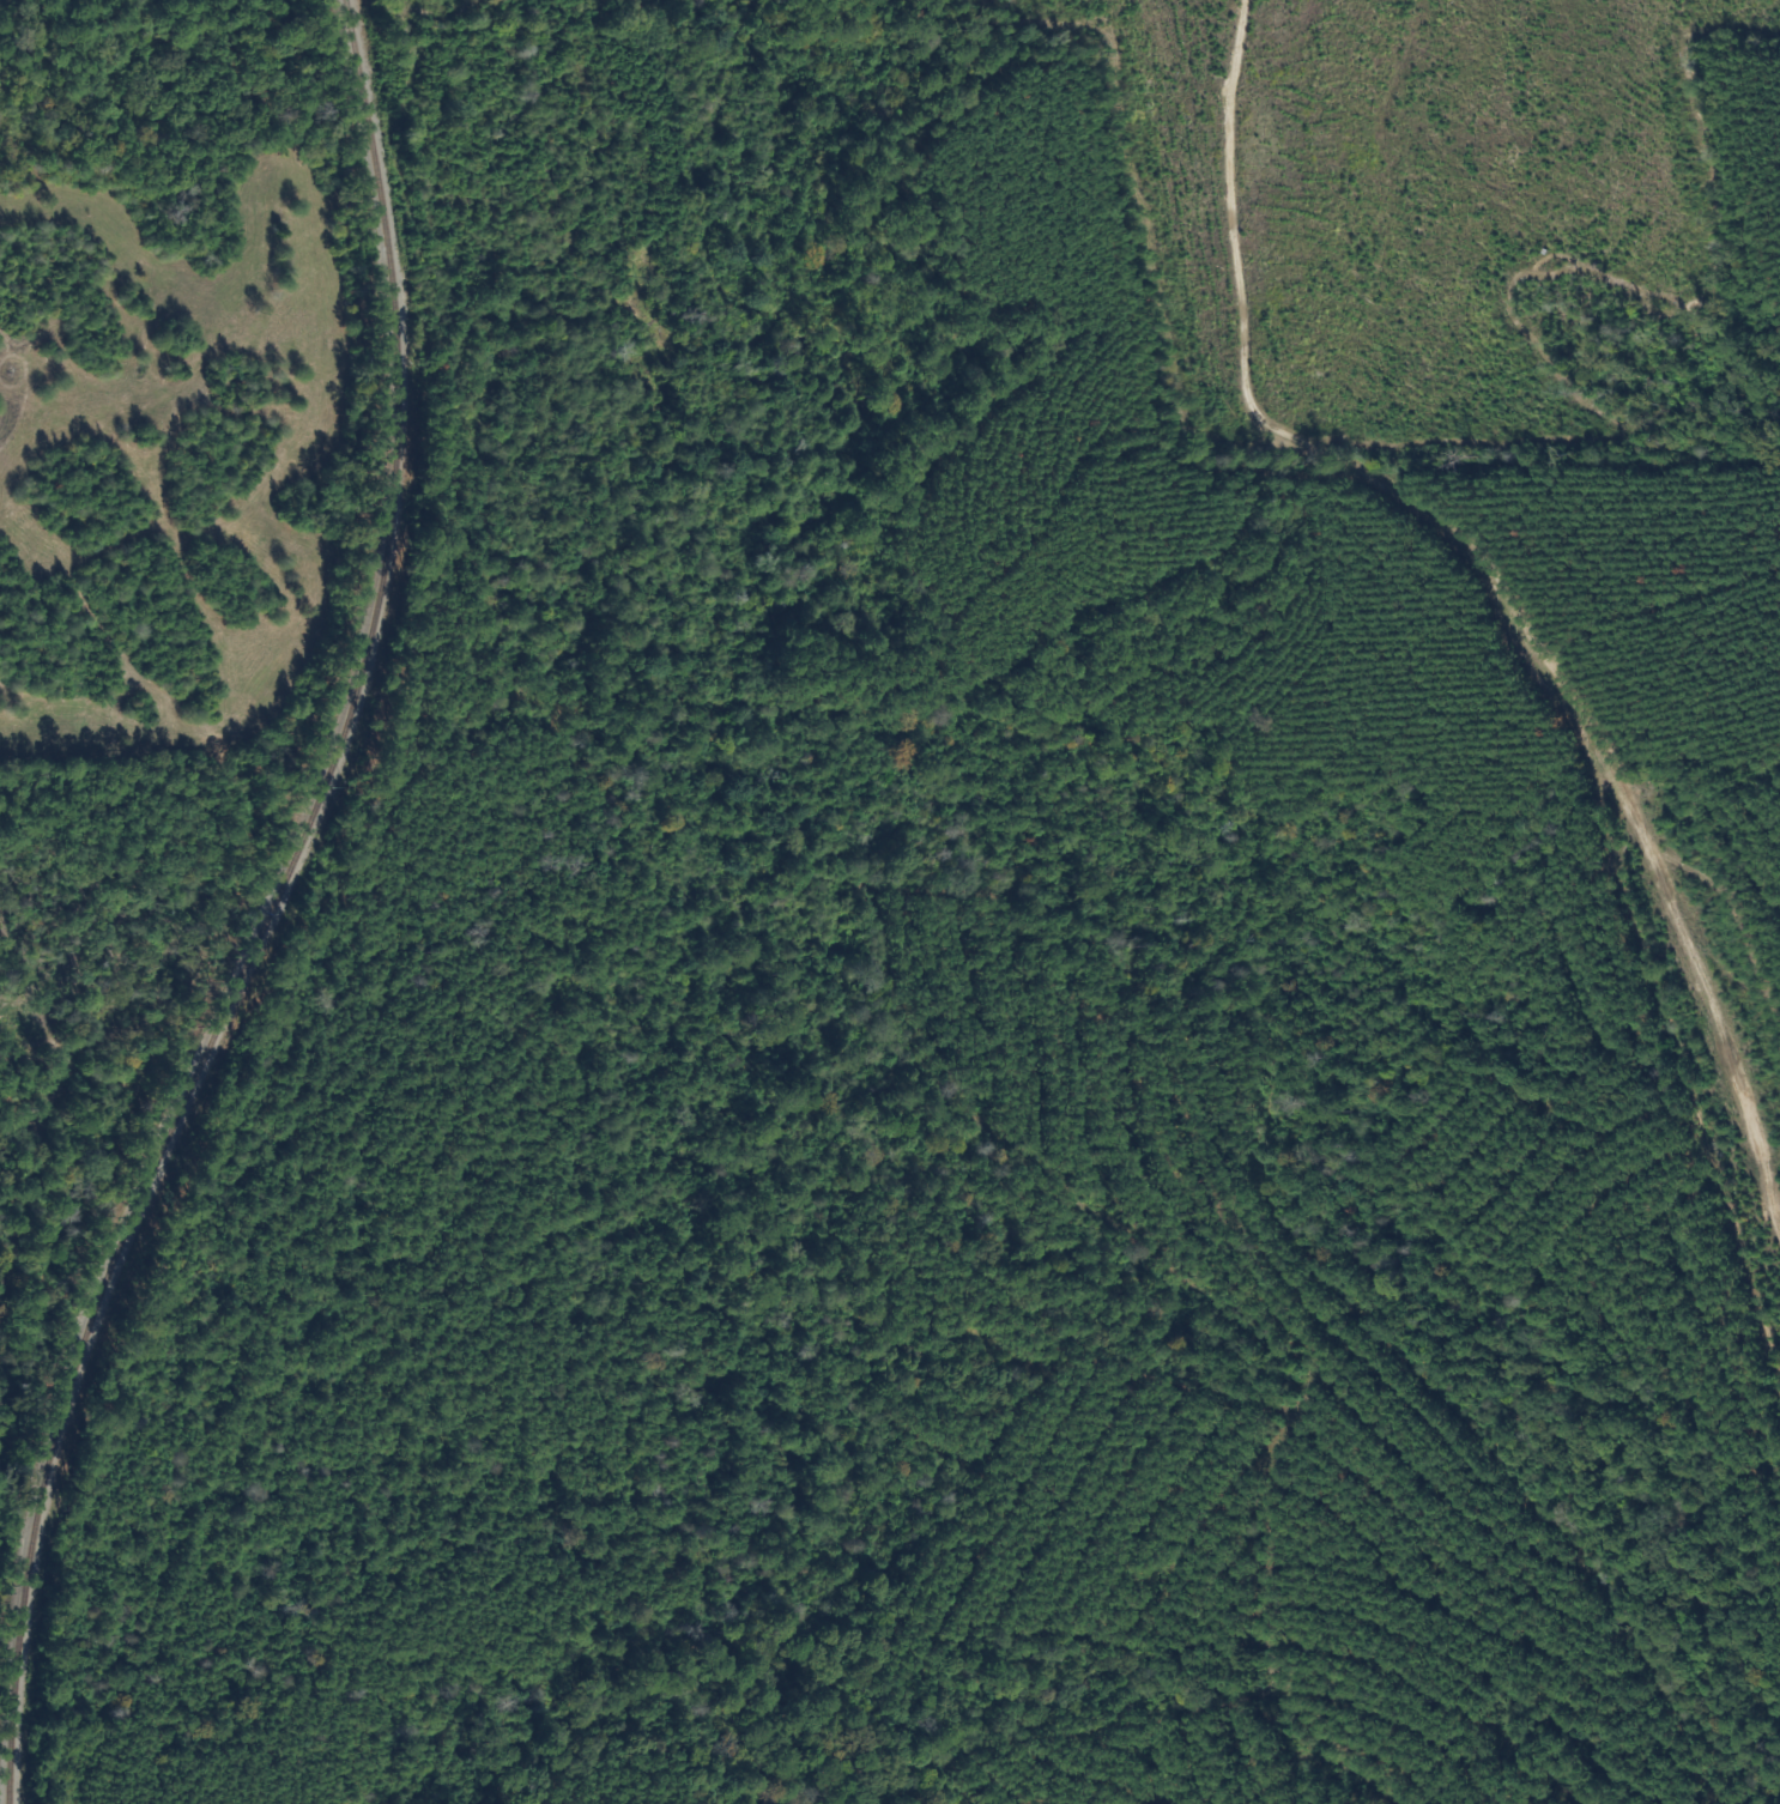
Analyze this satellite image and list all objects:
railway: (270, 913)

